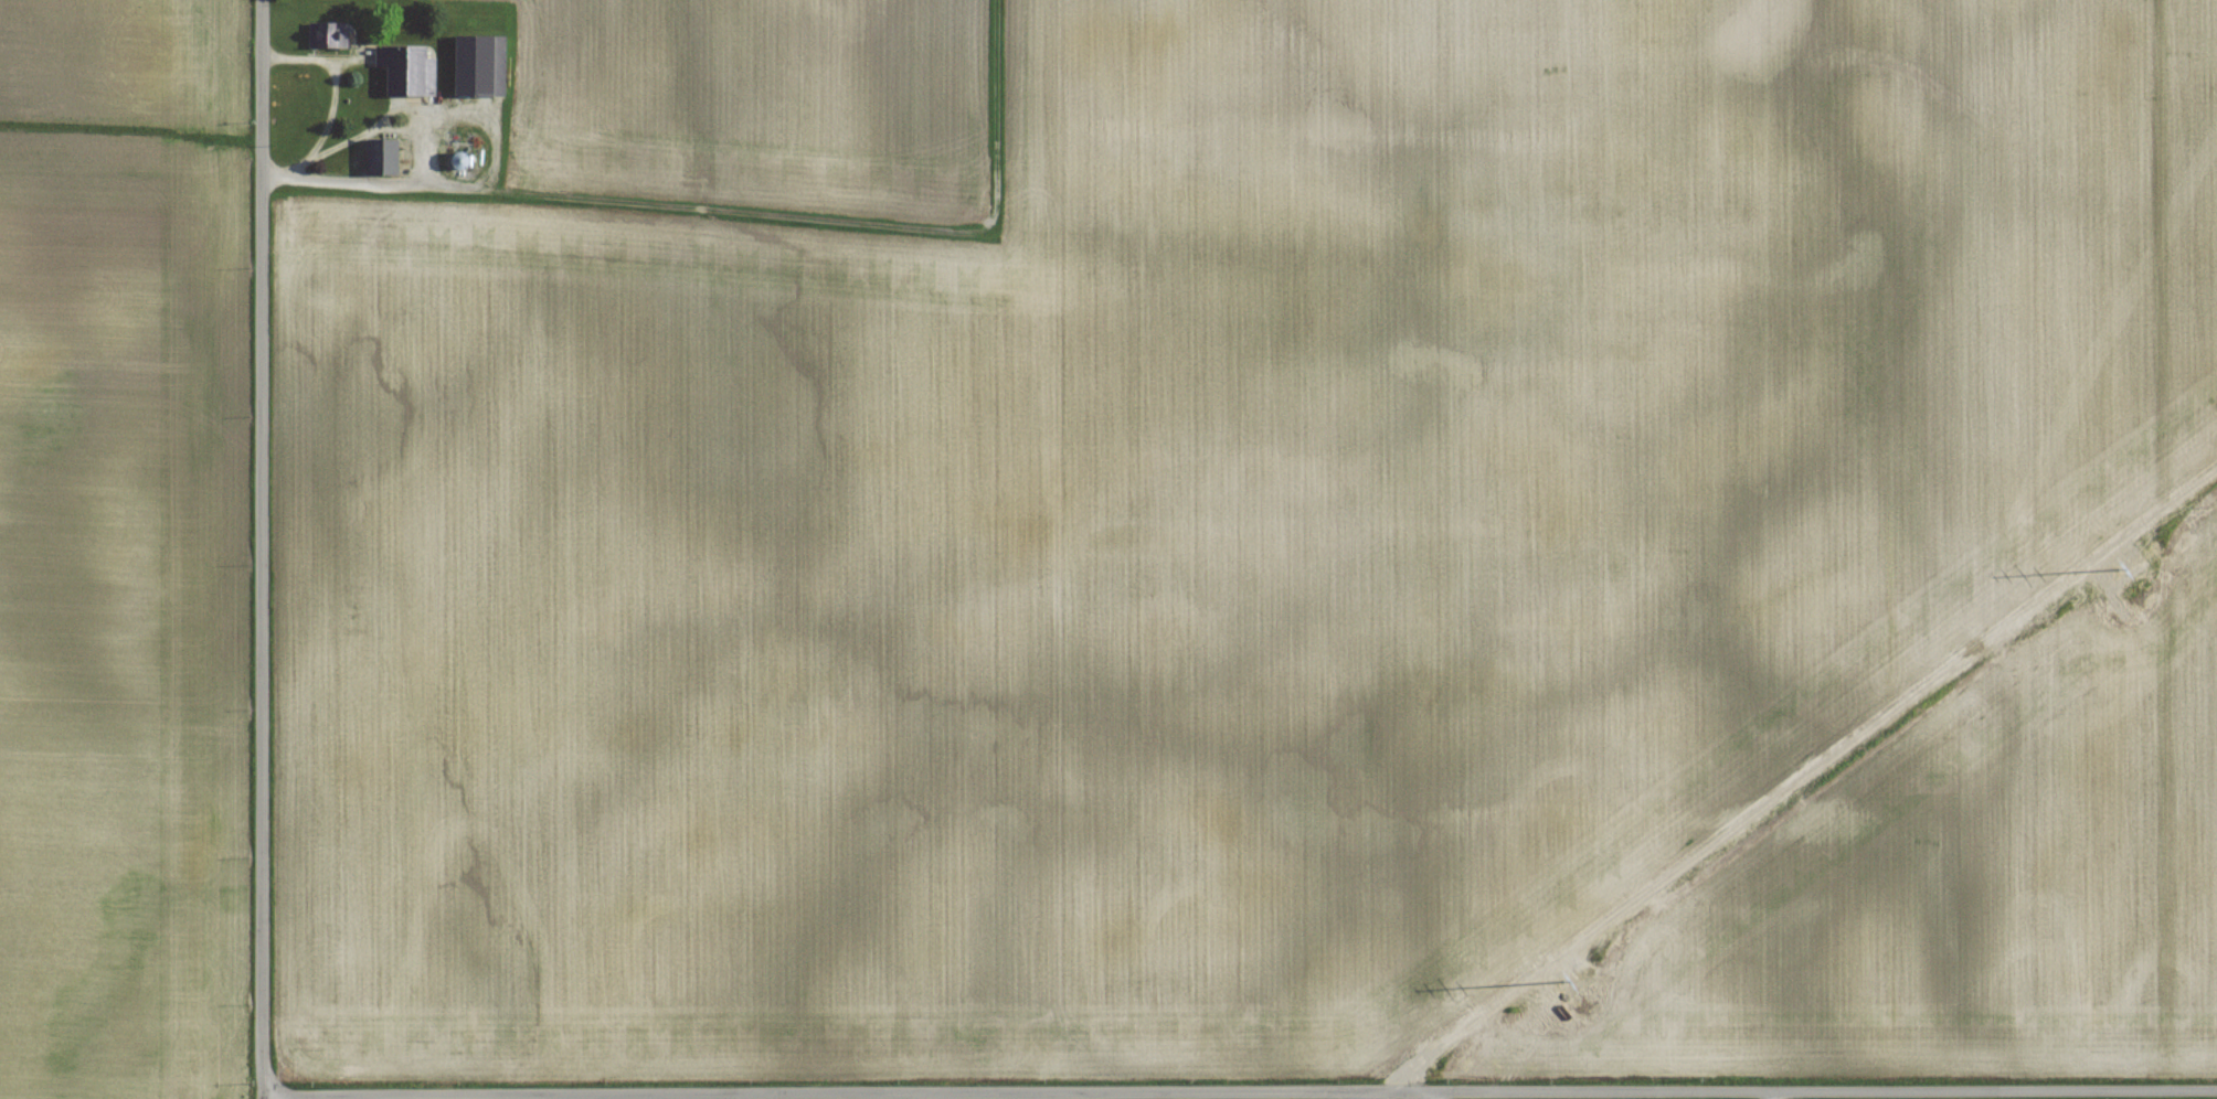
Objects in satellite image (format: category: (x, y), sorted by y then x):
building: (327, 36)
building: (478, 67)
building: (406, 72)
road: (333, 88)
building: (381, 158)
building: (458, 161)
road: (374, 181)
road: (263, 549)
power tower: (2140, 594)
power tower: (1584, 1009)
road: (1243, 1091)
road: (1430, 1095)
road: (1771, 1095)

